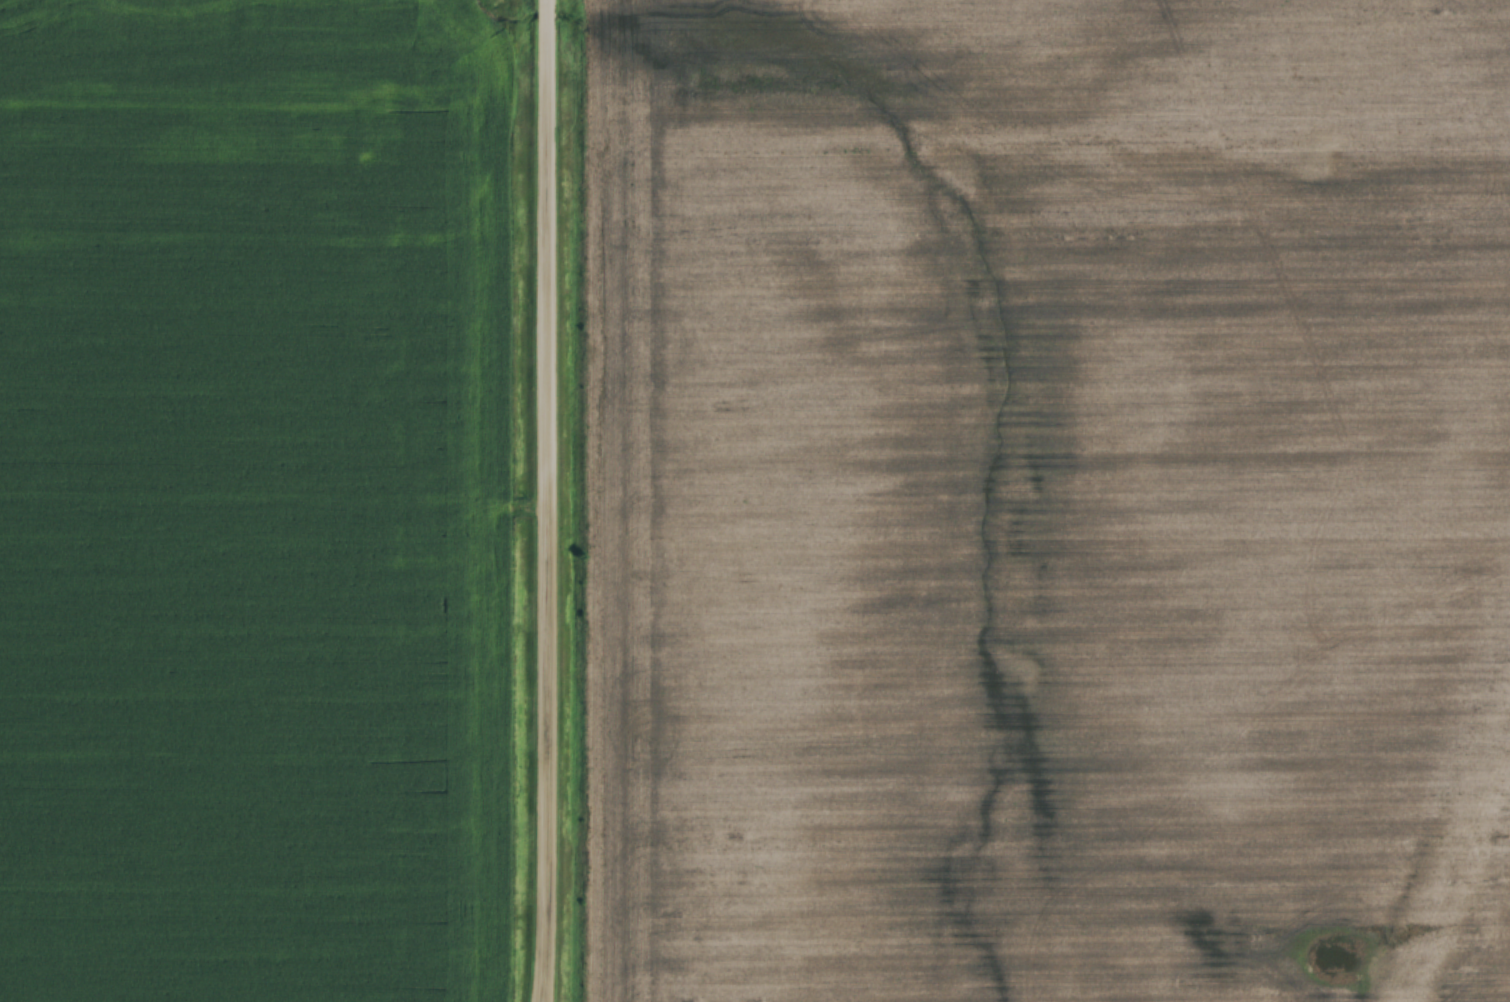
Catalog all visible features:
road: (553, 501)

